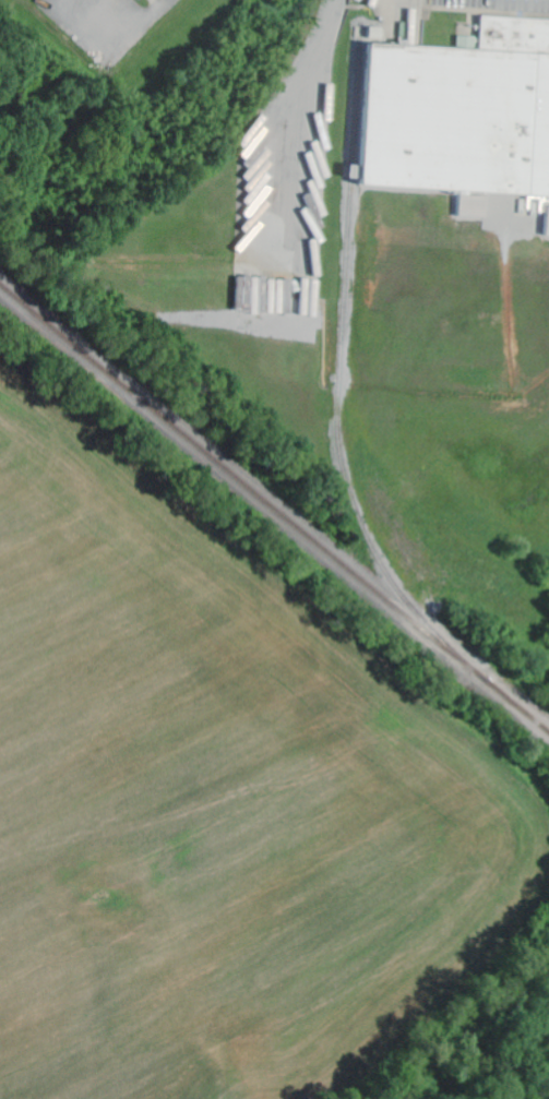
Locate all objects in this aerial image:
building: (134, 0)
building: (461, 117)
building: (547, 226)
railway: (341, 366)
railway: (276, 509)

